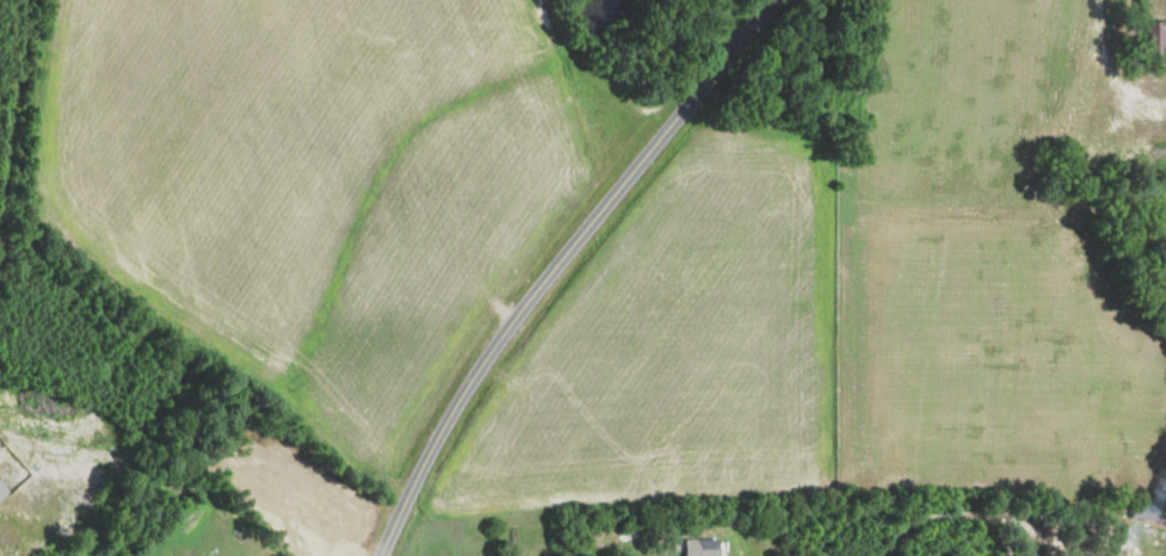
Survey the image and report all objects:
building: (1155, 38)
road: (1105, 70)
road: (557, 265)
road: (942, 517)
building: (697, 548)

